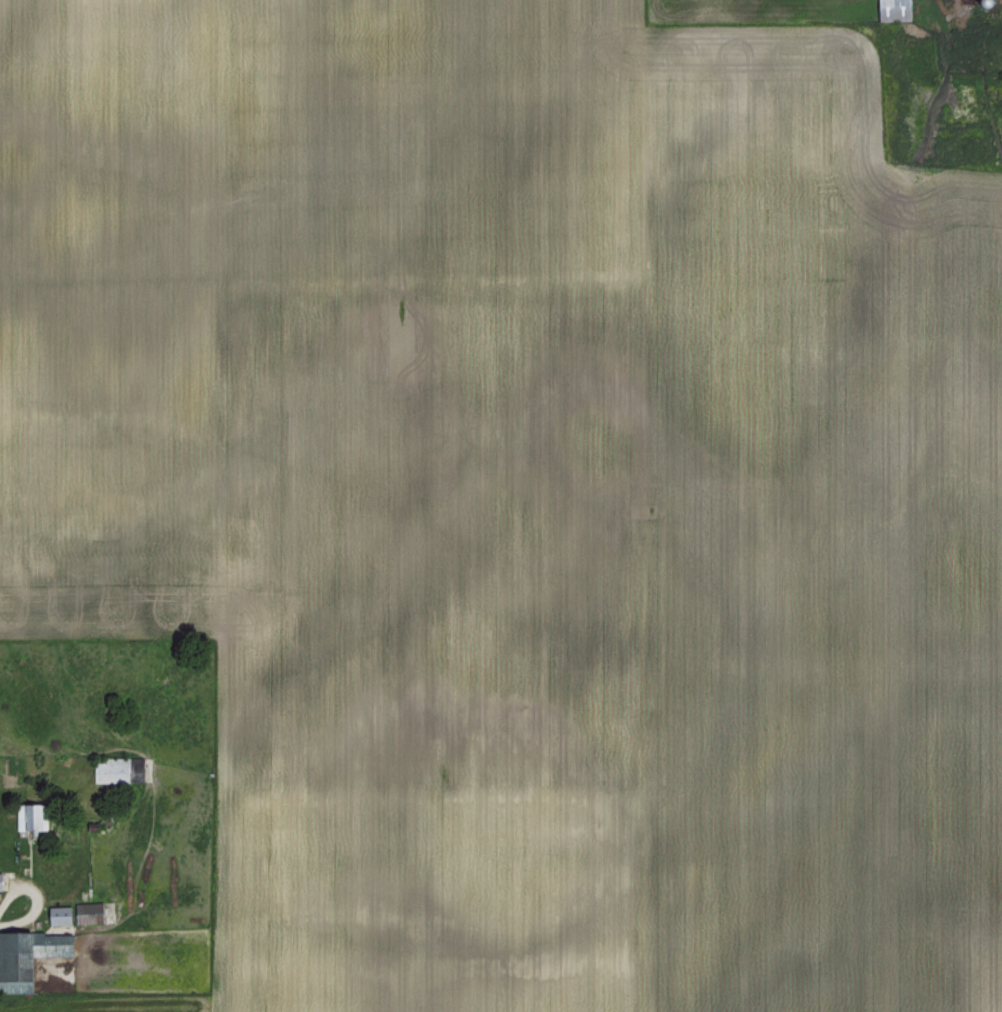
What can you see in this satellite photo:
building: (891, 9)
building: (114, 769)
building: (65, 914)
road: (94, 943)

